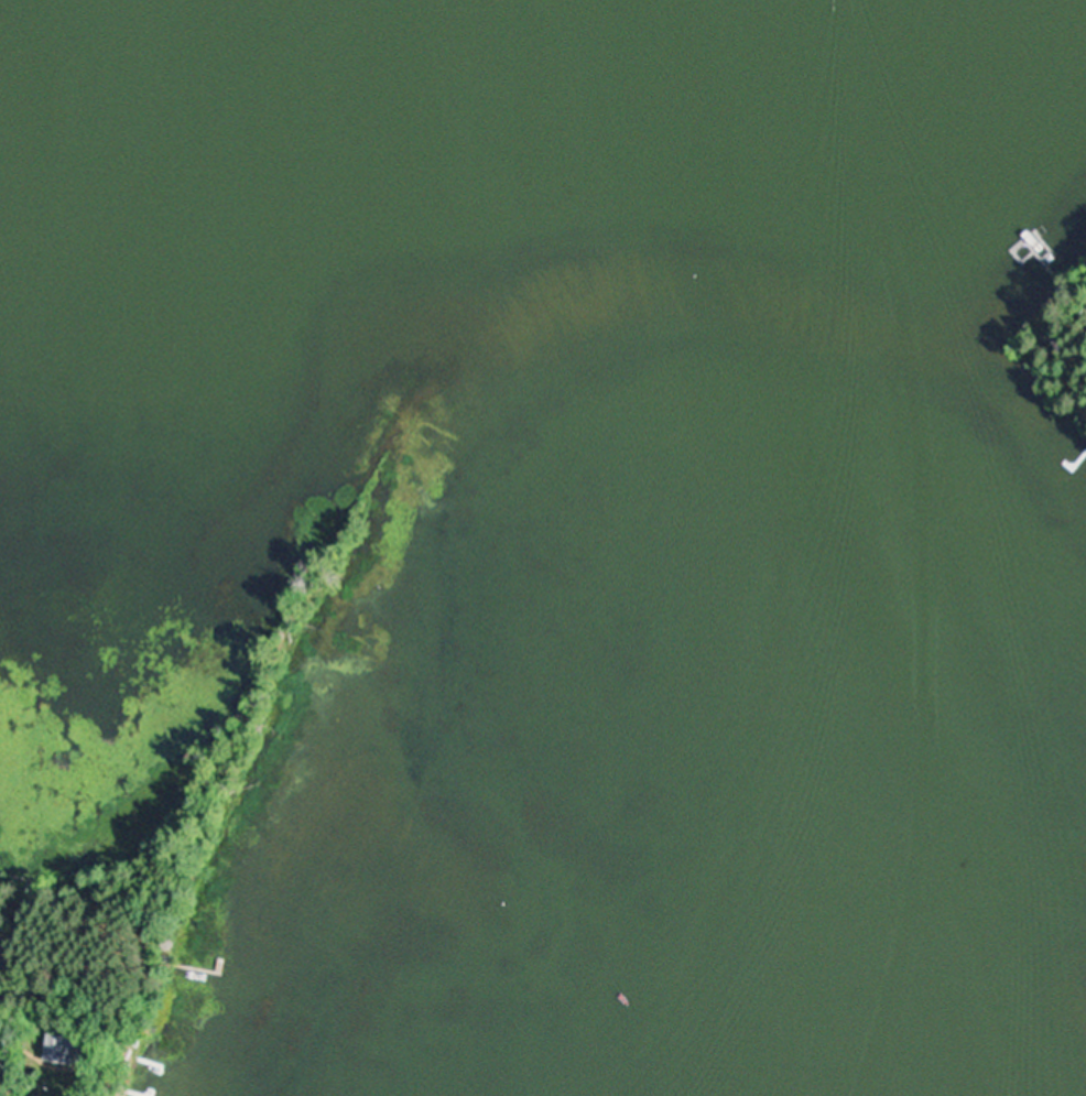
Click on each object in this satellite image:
building: (0, 941)

